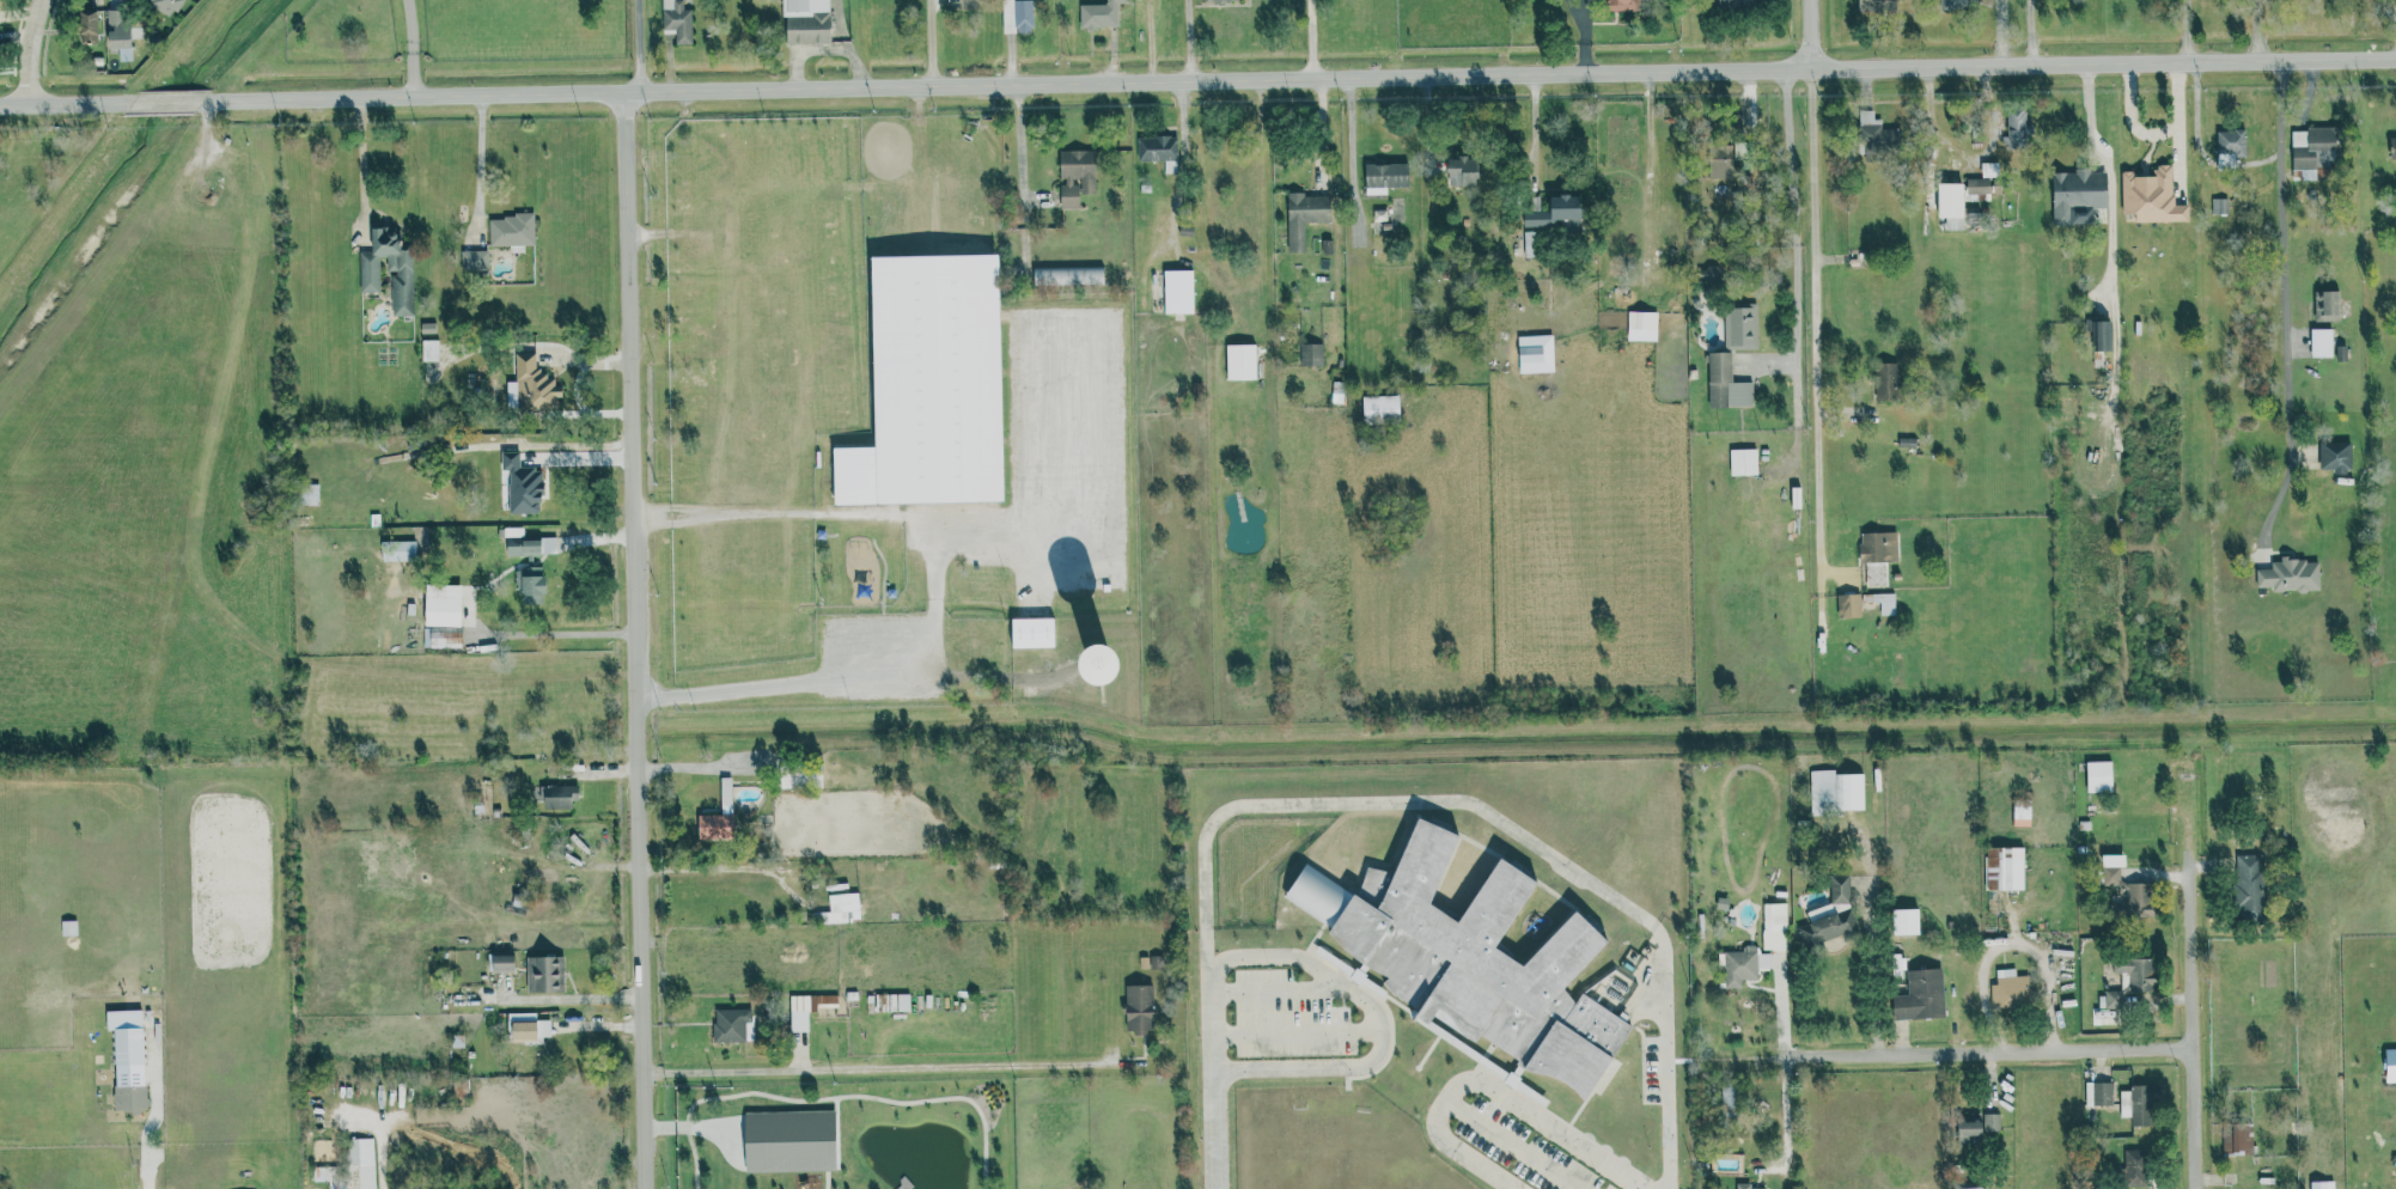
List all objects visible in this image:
building: (1223, 0)
building: (1956, 4)
building: (1621, 5)
building: (1731, 5)
building: (164, 6)
building: (1876, 6)
building: (1098, 14)
building: (1016, 16)
building: (676, 20)
building: (805, 22)
building: (85, 26)
building: (116, 29)
road: (1811, 30)
road: (2030, 30)
road: (2187, 31)
road: (2256, 31)
road: (1310, 36)
road: (1187, 37)
road: (931, 41)
road: (410, 47)
road: (30, 51)
road: (1299, 73)
road: (167, 102)
road: (66, 104)
road: (1318, 124)
road: (1532, 124)
building: (2016, 127)
building: (1868, 128)
road: (1349, 130)
road: (1020, 140)
building: (2230, 147)
building: (2313, 147)
building: (1157, 148)
building: (2392, 148)
road: (1969, 156)
road: (1650, 158)
road: (480, 163)
road: (362, 165)
road: (2108, 169)
building: (1461, 171)
building: (1075, 176)
building: (1384, 177)
road: (1182, 179)
building: (1977, 185)
building: (2078, 196)
building: (2151, 196)
building: (1950, 205)
building: (2219, 206)
building: (1553, 213)
building: (1304, 217)
building: (510, 230)
road: (1796, 230)
building: (1530, 244)
building: (473, 260)
building: (388, 270)
building: (1067, 276)
building: (1177, 292)
building: (2328, 307)
building: (1641, 325)
building: (1739, 327)
building: (2103, 335)
building: (2321, 342)
building: (428, 350)
building: (1311, 354)
building: (1535, 354)
building: (1240, 362)
road: (2287, 368)
road: (1817, 376)
building: (1719, 379)
building: (1885, 382)
building: (928, 386)
building: (530, 389)
building: (1379, 409)
building: (2335, 456)
building: (1743, 462)
building: (519, 486)
building: (309, 494)
building: (522, 548)
building: (396, 551)
building: (1877, 555)
building: (2290, 575)
building: (530, 586)
road: (932, 590)
road: (638, 594)
building: (1885, 603)
building: (441, 605)
building: (1848, 605)
building: (1031, 634)
building: (444, 638)
building: (2098, 776)
building: (1835, 791)
building: (559, 797)
road: (1397, 801)
building: (2022, 812)
building: (717, 816)
building: (2004, 868)
building: (2248, 886)
building: (2126, 888)
building: (1840, 889)
building: (839, 909)
building: (1774, 916)
building: (1904, 921)
building: (1829, 928)
road: (2011, 944)
building: (1763, 961)
building: (1471, 962)
building: (501, 963)
building: (1737, 967)
building: (544, 972)
building: (2130, 980)
road: (1877, 984)
building: (2007, 986)
road: (1269, 989)
building: (1920, 995)
road: (573, 998)
road: (1782, 1007)
building: (806, 1008)
building: (1138, 1008)
road: (1376, 1023)
building: (730, 1024)
road: (2191, 1024)
building: (528, 1028)
road: (1293, 1033)
road: (1977, 1048)
building: (127, 1059)
building: (2390, 1065)
road: (879, 1067)
road: (1490, 1081)
building: (2098, 1093)
building: (2136, 1110)
road: (1785, 1120)
building: (1990, 1122)
building: (2233, 1139)
building: (788, 1141)
road: (1517, 1141)
road: (383, 1157)
building: (360, 1163)
road: (145, 1164)
building: (2130, 1170)
building: (2322, 1184)
building: (1744, 1185)
building: (1975, 1188)

